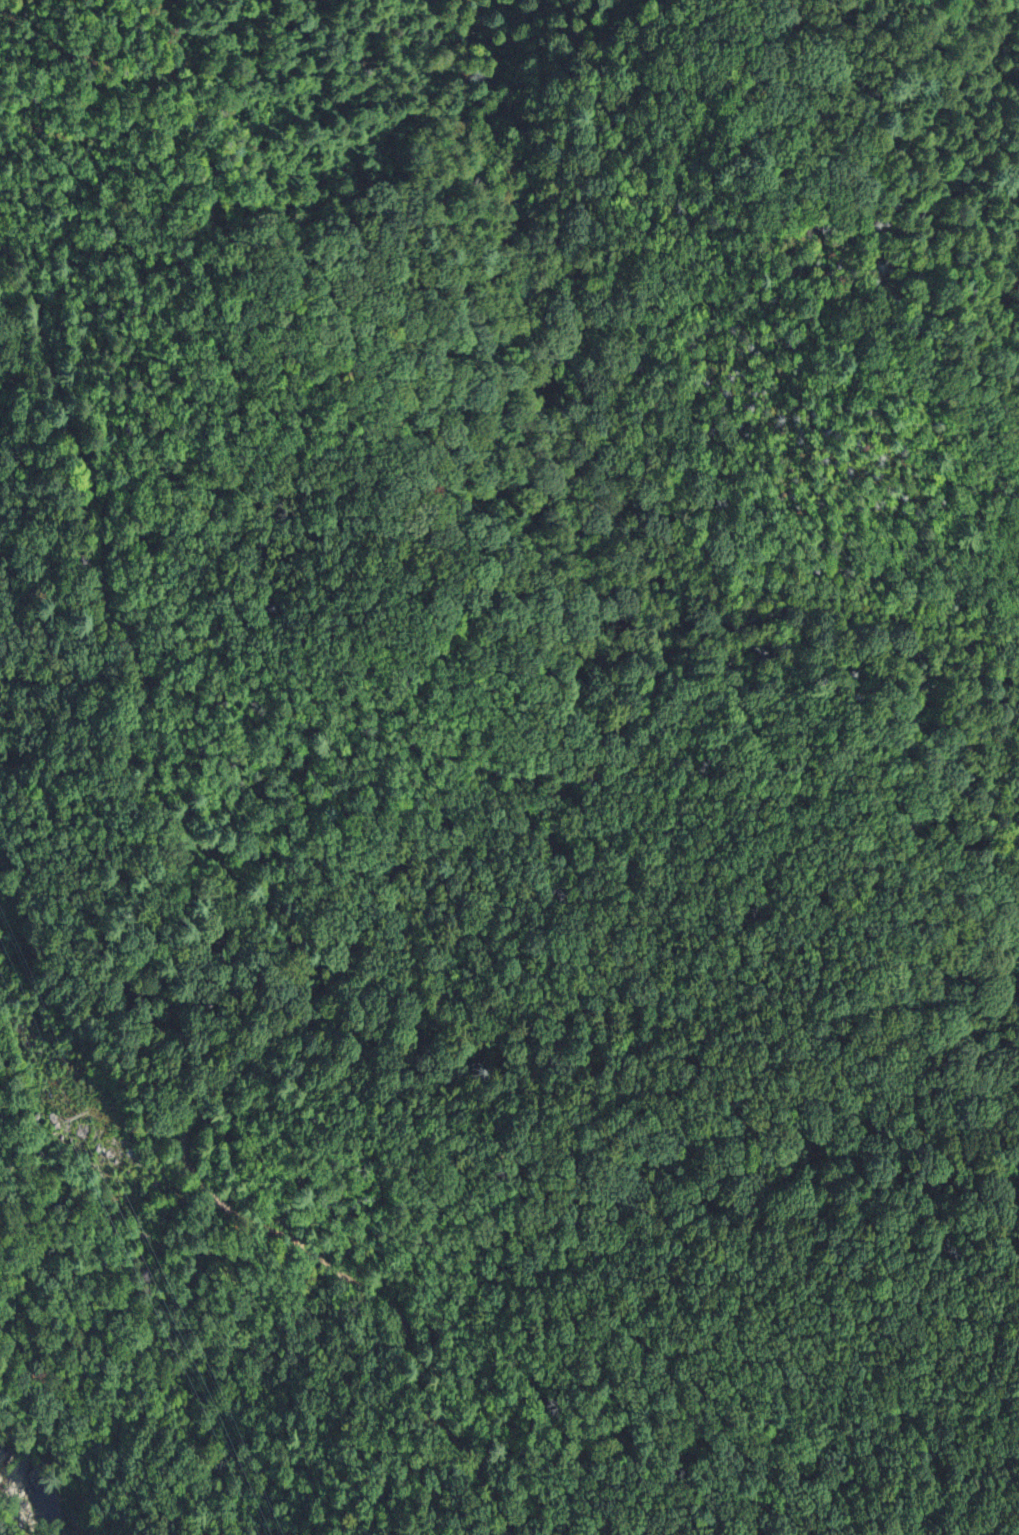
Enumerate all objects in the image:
road: (291, 949)
power tower: (71, 1121)
river: (41, 1491)

